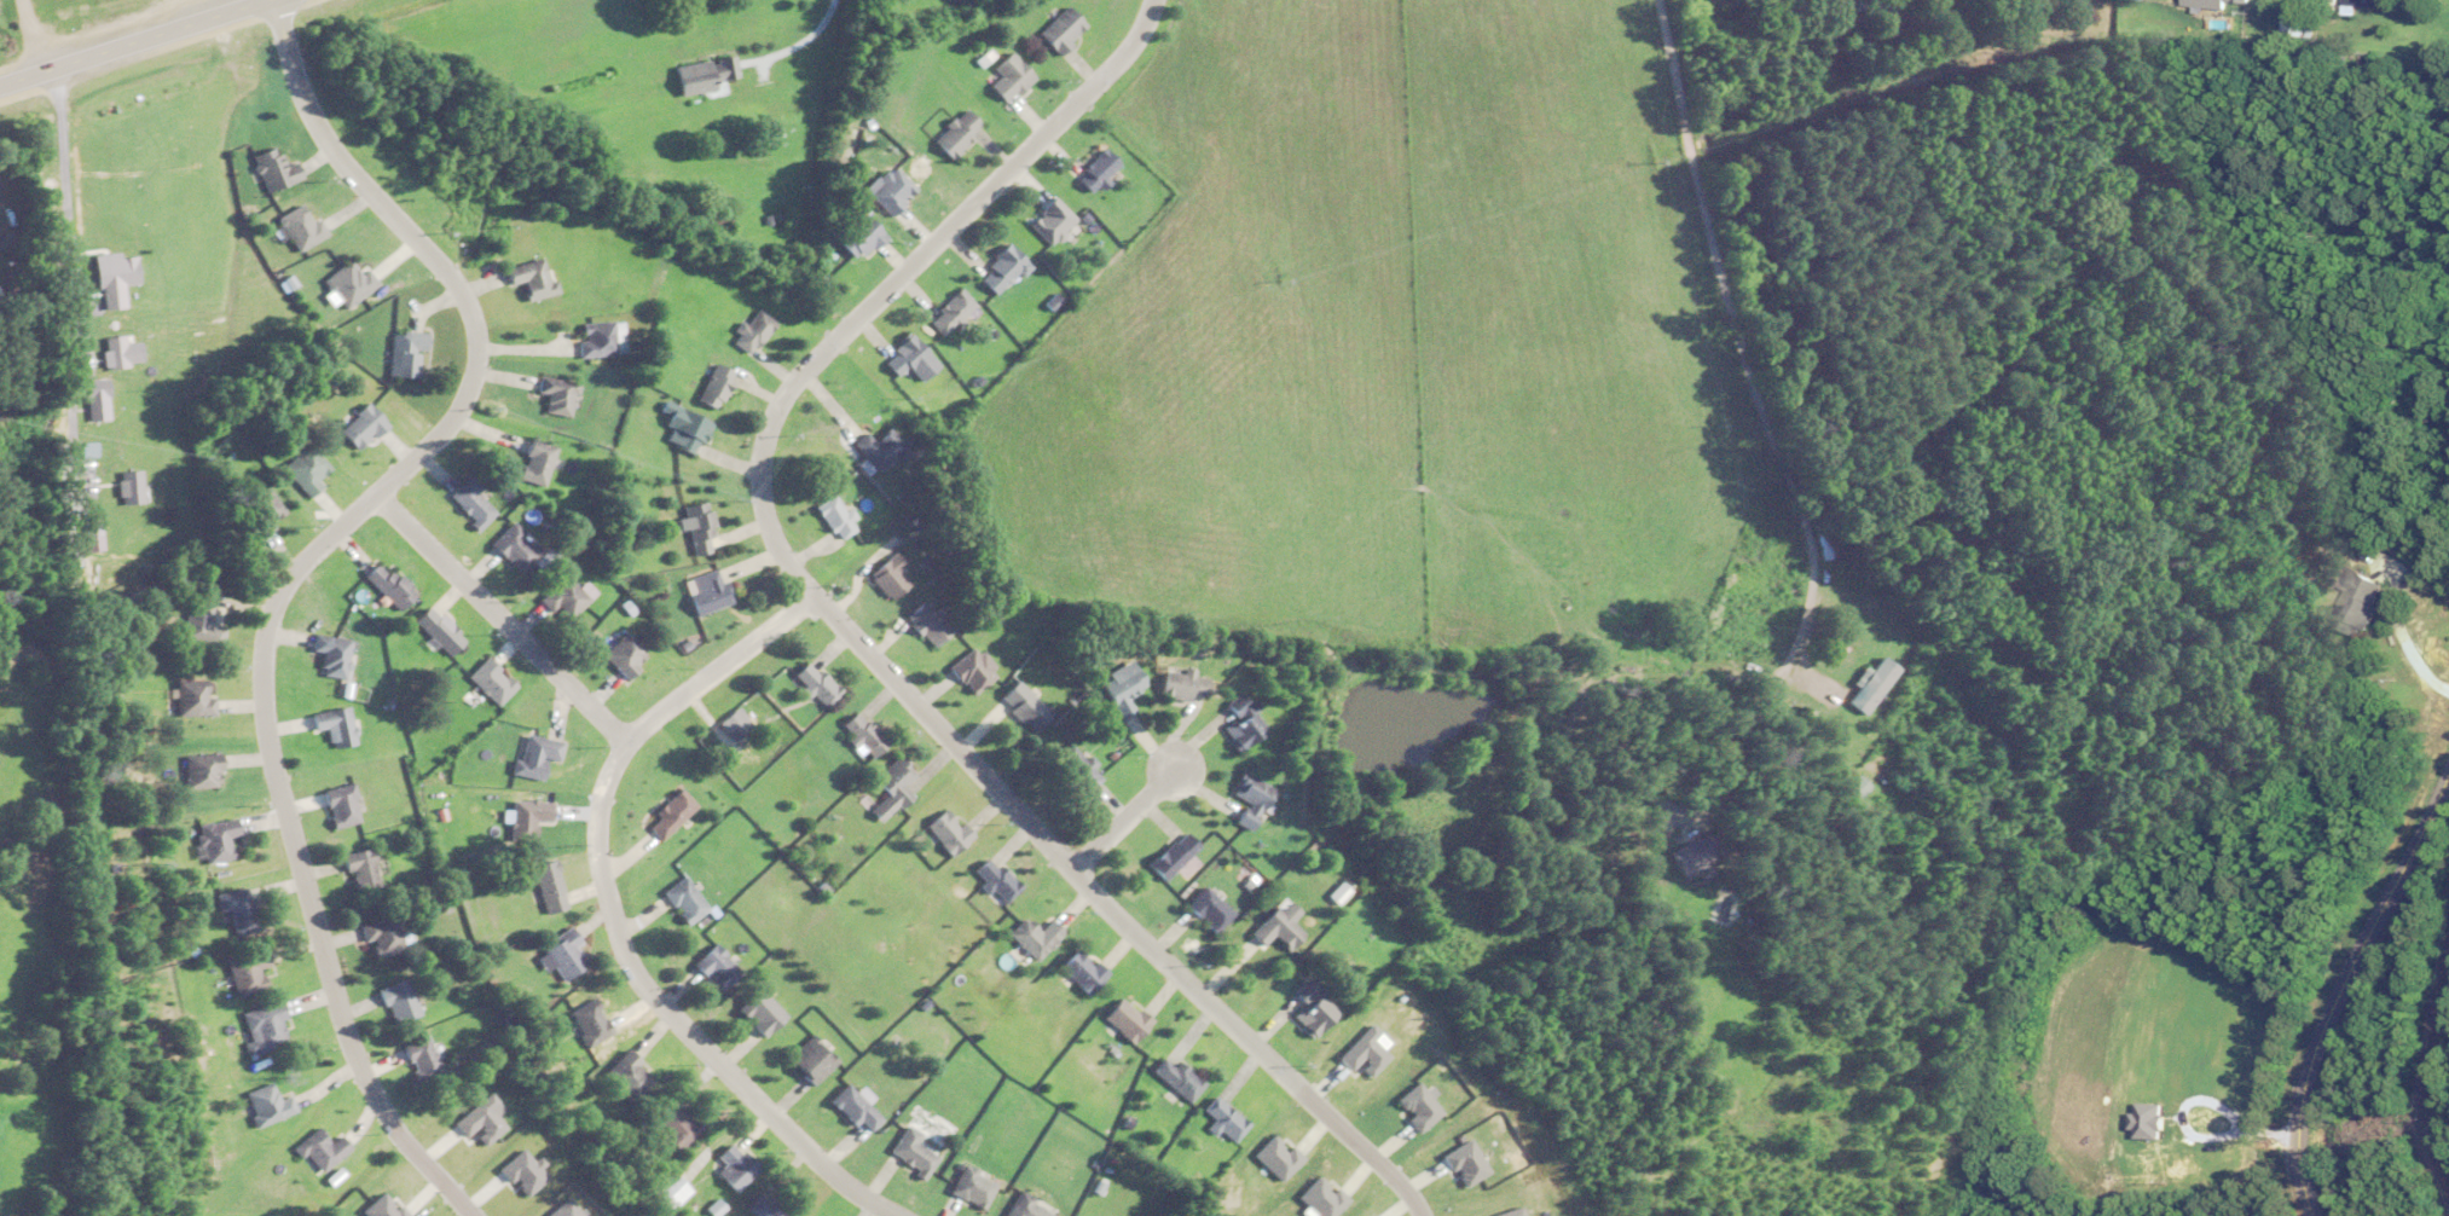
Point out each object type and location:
building: (2002, 2)
building: (2208, 2)
building: (2367, 2)
building: (1059, 28)
road: (23, 36)
road: (135, 41)
road: (794, 46)
building: (702, 74)
building: (1005, 76)
building: (953, 132)
building: (274, 168)
building: (1093, 169)
building: (887, 190)
building: (718, 218)
building: (1047, 219)
building: (300, 227)
building: (853, 236)
building: (996, 270)
building: (120, 278)
building: (528, 278)
building: (348, 282)
road: (70, 283)
building: (946, 311)
building: (595, 337)
building: (403, 351)
building: (120, 352)
building: (905, 358)
building: (712, 386)
building: (556, 394)
building: (102, 399)
road: (1767, 422)
building: (358, 425)
building: (681, 428)
building: (874, 447)
building: (533, 461)
building: (305, 468)
building: (469, 503)
building: (259, 510)
building: (833, 517)
building: (694, 527)
building: (519, 549)
road: (297, 569)
building: (885, 574)
building: (386, 584)
building: (702, 592)
building: (560, 598)
building: (2352, 601)
road: (500, 616)
building: (922, 623)
building: (199, 625)
building: (434, 629)
road: (2398, 629)
road: (849, 633)
building: (329, 654)
building: (618, 654)
building: (969, 671)
building: (486, 681)
building: (810, 684)
building: (1177, 684)
building: (1117, 688)
building: (195, 697)
building: (1020, 705)
building: (1240, 722)
building: (330, 725)
building: (858, 734)
building: (528, 754)
building: (1076, 768)
building: (202, 769)
building: (886, 787)
building: (1847, 787)
building: (1250, 798)
building: (335, 805)
building: (662, 815)
road: (1127, 816)
building: (520, 817)
building: (944, 830)
building: (213, 840)
building: (1686, 852)
building: (1170, 855)
building: (354, 869)
building: (992, 879)
building: (540, 886)
building: (677, 901)
building: (1206, 909)
building: (238, 911)
road: (610, 919)
building: (1272, 928)
building: (375, 936)
building: (1032, 936)
building: (557, 952)
building: (711, 966)
building: (243, 971)
building: (1078, 971)
road: (2343, 984)
building: (394, 1000)
building: (1305, 1007)
building: (755, 1011)
building: (1121, 1019)
building: (587, 1021)
building: (260, 1026)
building: (419, 1059)
building: (807, 1059)
building: (626, 1076)
building: (1173, 1077)
building: (262, 1104)
building: (850, 1107)
building: (1222, 1119)
building: (667, 1124)
building: (317, 1150)
building: (907, 1151)
building: (731, 1165)
building: (967, 1186)
building: (1024, 1206)

